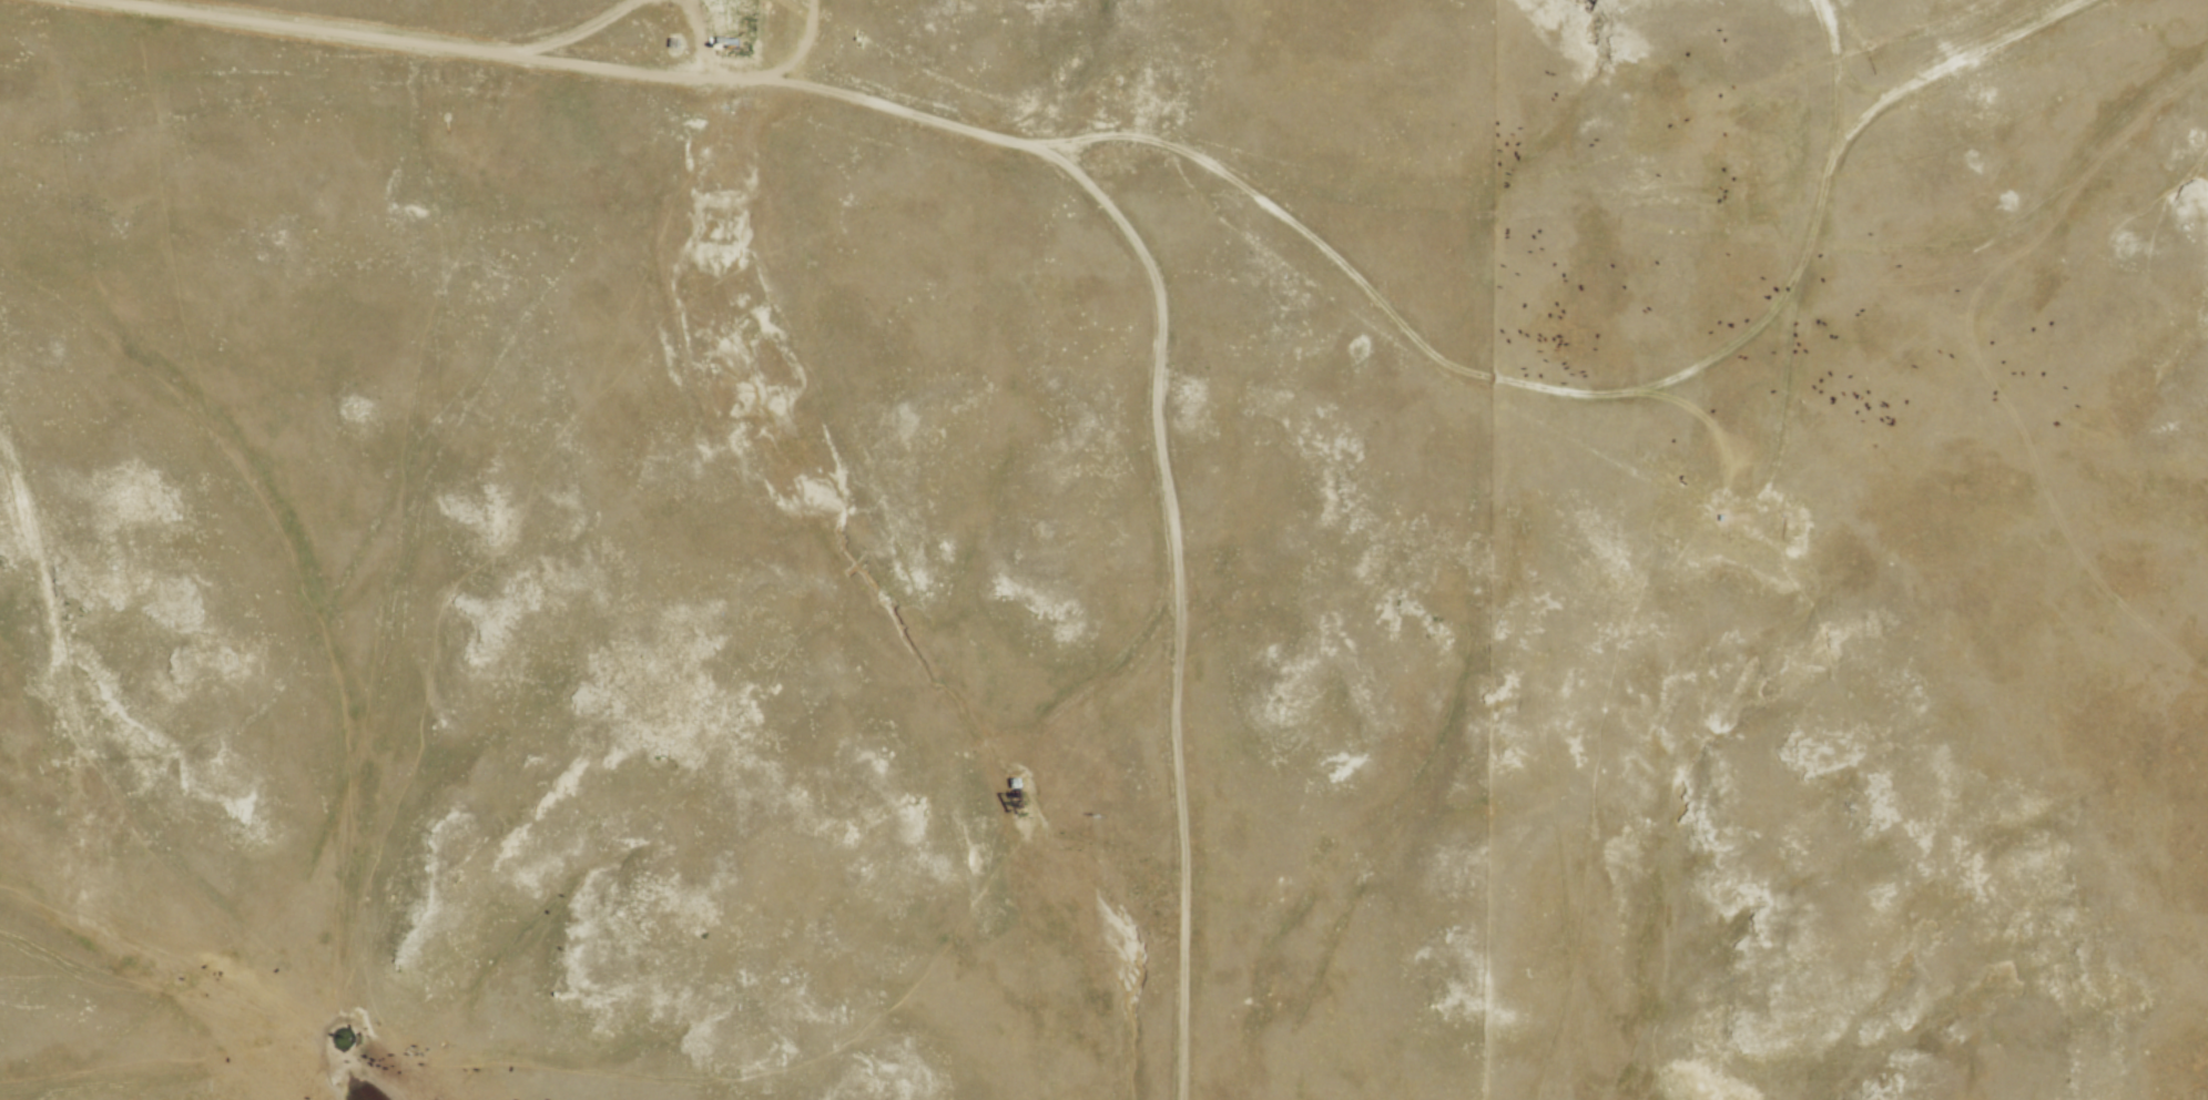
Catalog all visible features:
road: (570, 35)
building: (732, 41)
road: (793, 57)
road: (1198, 163)
road: (1178, 589)
road: (1029, 760)

